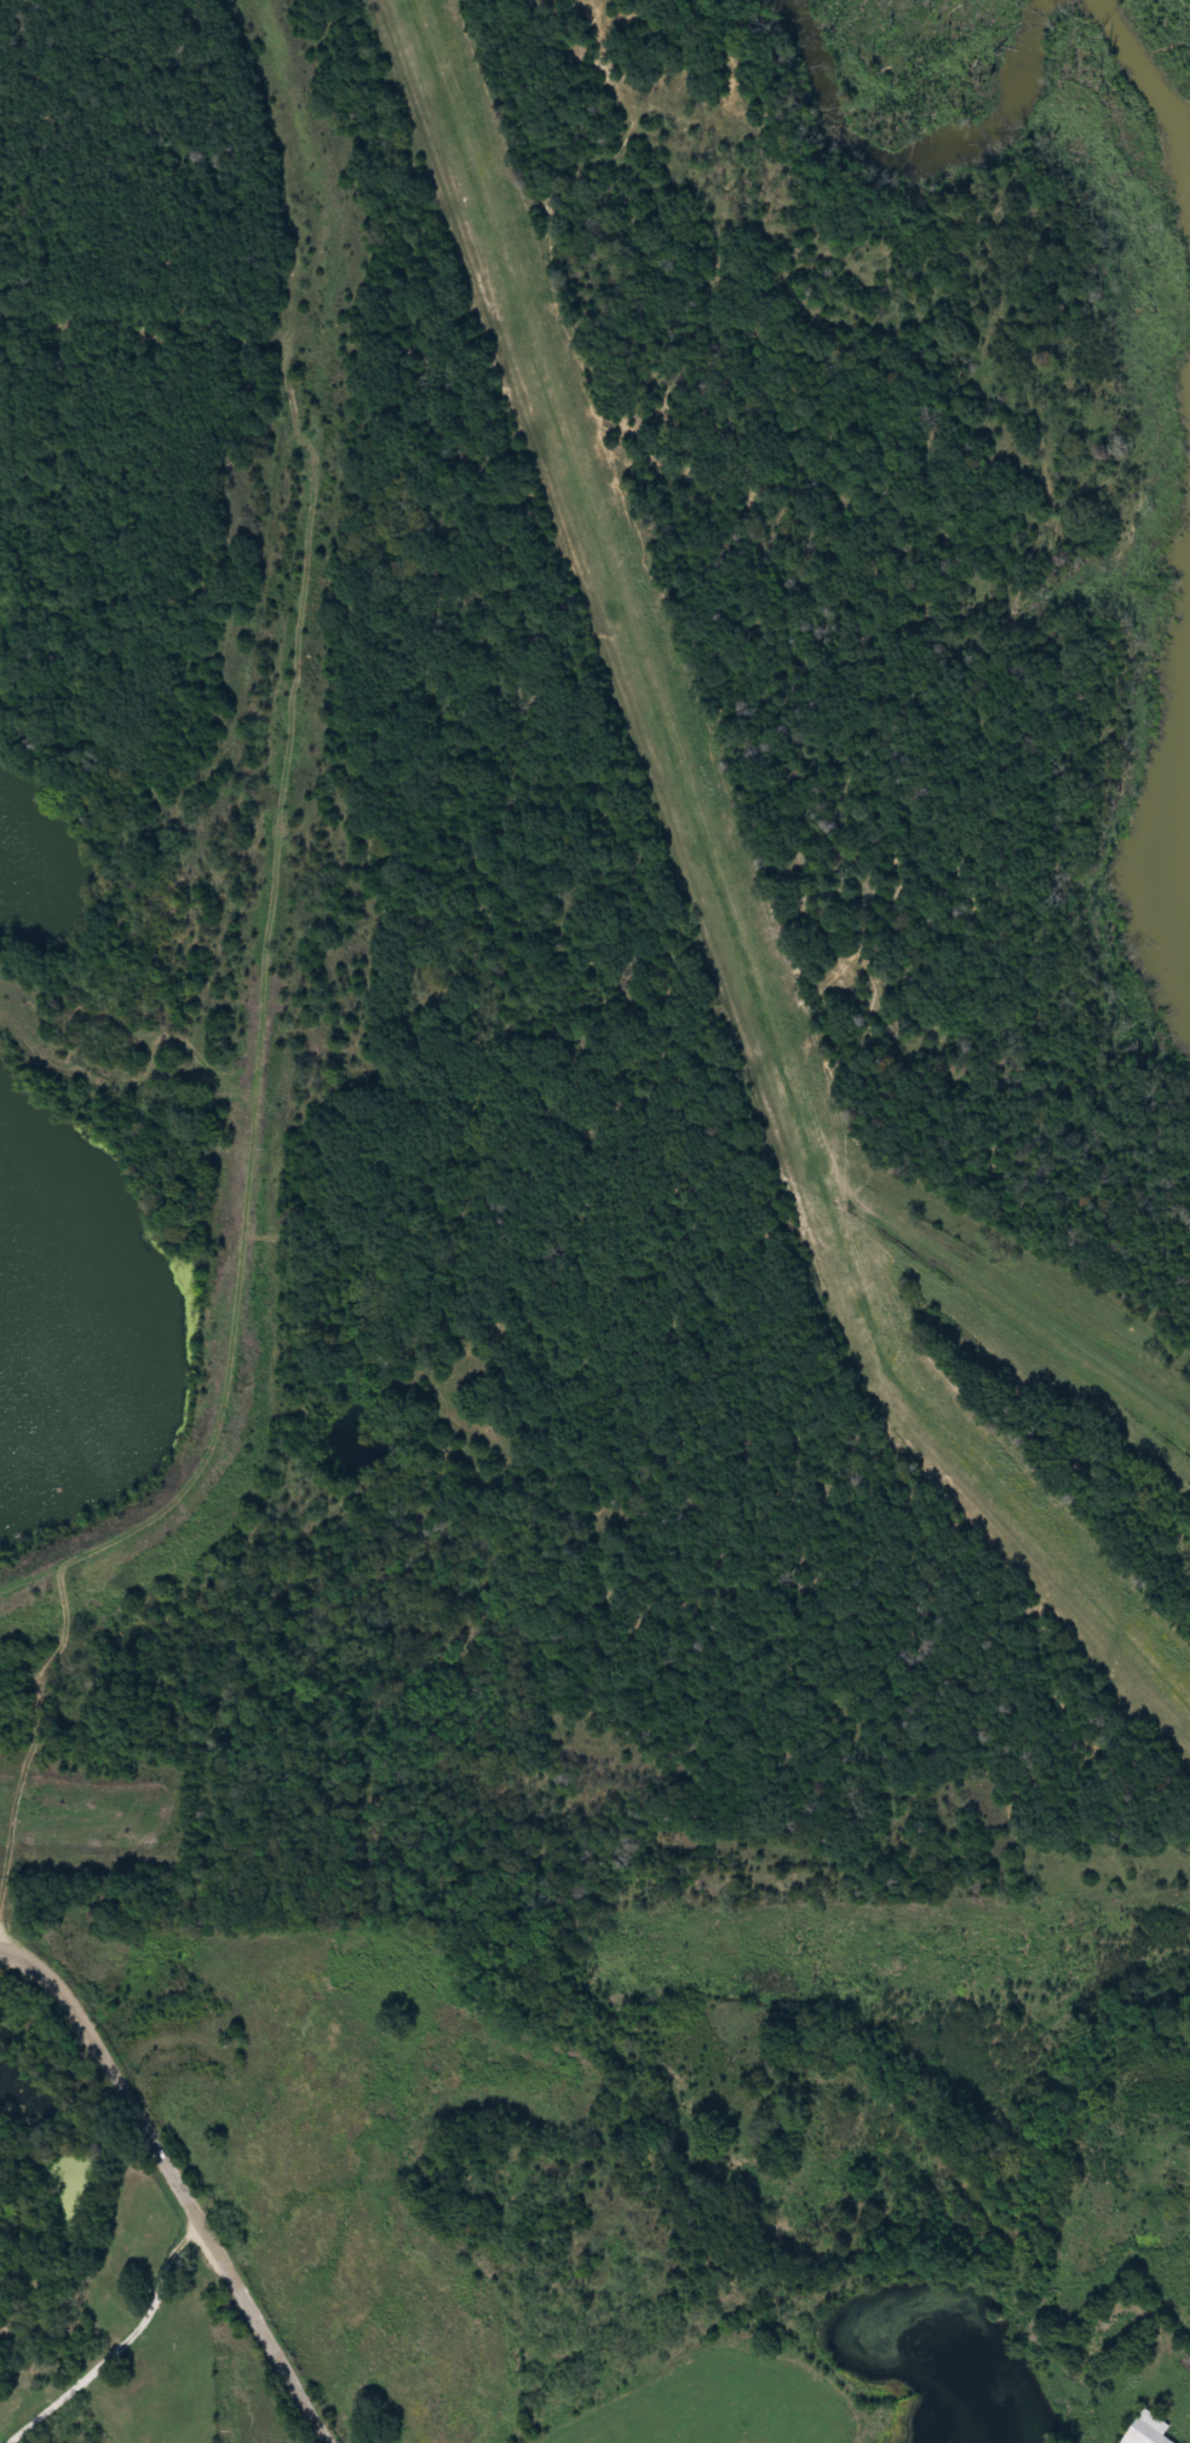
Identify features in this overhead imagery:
road: (182, 2180)
building: (1146, 2430)

